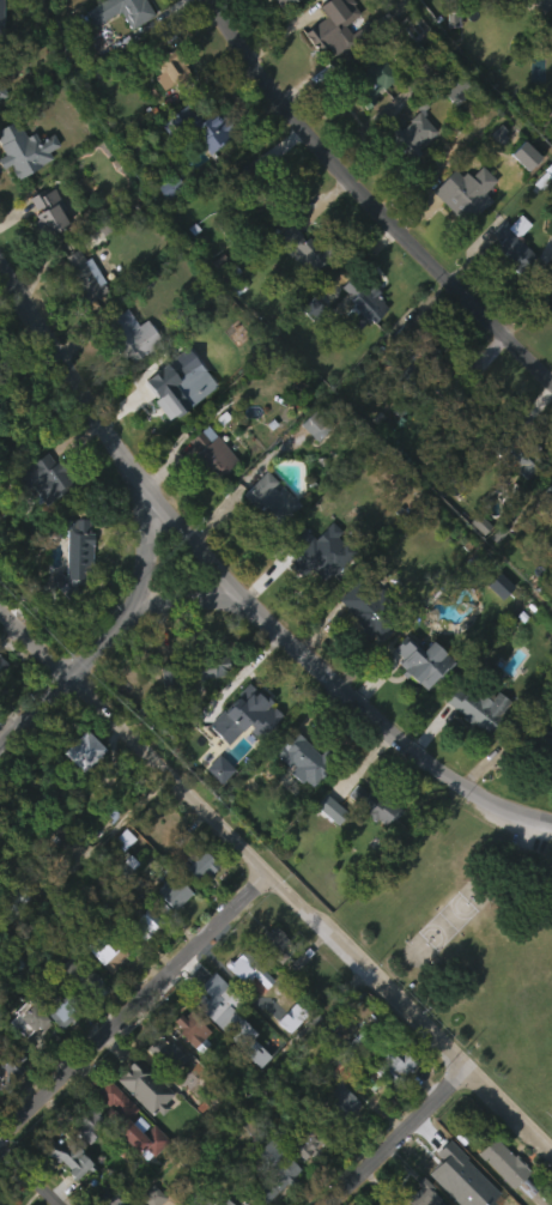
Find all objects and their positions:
building: (290, 4)
building: (267, 5)
building: (541, 5)
building: (122, 11)
building: (323, 35)
building: (115, 44)
building: (330, 61)
building: (170, 69)
building: (372, 83)
building: (461, 87)
building: (2, 90)
building: (366, 121)
building: (194, 126)
building: (415, 129)
building: (25, 149)
building: (524, 153)
building: (194, 164)
building: (408, 170)
building: (493, 171)
building: (257, 186)
building: (22, 188)
building: (468, 193)
building: (520, 193)
road: (366, 202)
building: (47, 211)
building: (164, 224)
building: (460, 230)
building: (517, 243)
building: (309, 247)
building: (44, 249)
building: (89, 277)
building: (508, 280)
building: (299, 286)
building: (550, 296)
building: (366, 303)
building: (81, 314)
building: (132, 334)
building: (547, 337)
building: (357, 340)
building: (414, 359)
road: (71, 369)
building: (127, 373)
building: (425, 388)
building: (162, 395)
building: (463, 399)
building: (174, 420)
building: (316, 422)
building: (520, 452)
building: (212, 454)
building: (309, 465)
building: (44, 478)
building: (207, 489)
building: (514, 493)
building: (271, 501)
building: (548, 509)
building: (40, 515)
building: (266, 537)
building: (546, 537)
building: (74, 547)
building: (314, 556)
building: (475, 561)
building: (71, 592)
building: (310, 598)
road: (193, 599)
building: (360, 610)
road: (110, 630)
building: (496, 635)
building: (356, 649)
building: (421, 661)
building: (2, 662)
building: (195, 667)
road: (330, 677)
building: (417, 698)
building: (1, 702)
building: (204, 704)
building: (478, 708)
building: (540, 743)
building: (472, 745)
building: (79, 750)
building: (241, 752)
building: (303, 758)
building: (538, 786)
building: (78, 788)
building: (298, 798)
building: (376, 804)
building: (48, 837)
building: (366, 842)
building: (204, 864)
building: (119, 877)
road: (278, 878)
building: (59, 879)
building: (177, 892)
building: (12, 901)
building: (195, 901)
building: (148, 922)
building: (170, 931)
park: (471, 939)
building: (277, 943)
building: (104, 950)
building: (141, 959)
building: (247, 969)
building: (79, 975)
building: (271, 982)
building: (103, 989)
building: (216, 999)
road: (135, 1004)
building: (56, 1007)
building: (244, 1011)
building: (78, 1015)
building: (293, 1016)
building: (29, 1019)
building: (192, 1029)
building: (210, 1036)
building: (54, 1049)
building: (169, 1053)
building: (23, 1059)
building: (11, 1064)
building: (184, 1064)
building: (398, 1064)
building: (147, 1085)
building: (389, 1102)
building: (8, 1104)
building: (345, 1108)
building: (127, 1121)
building: (86, 1125)
road: (398, 1136)
building: (335, 1138)
building: (305, 1143)
building: (71, 1158)
building: (125, 1158)
building: (268, 1158)
building: (511, 1169)
road: (30, 1173)
building: (302, 1182)
building: (63, 1191)
building: (493, 1192)
building: (419, 1197)
building: (207, 1199)
building: (281, 1200)

